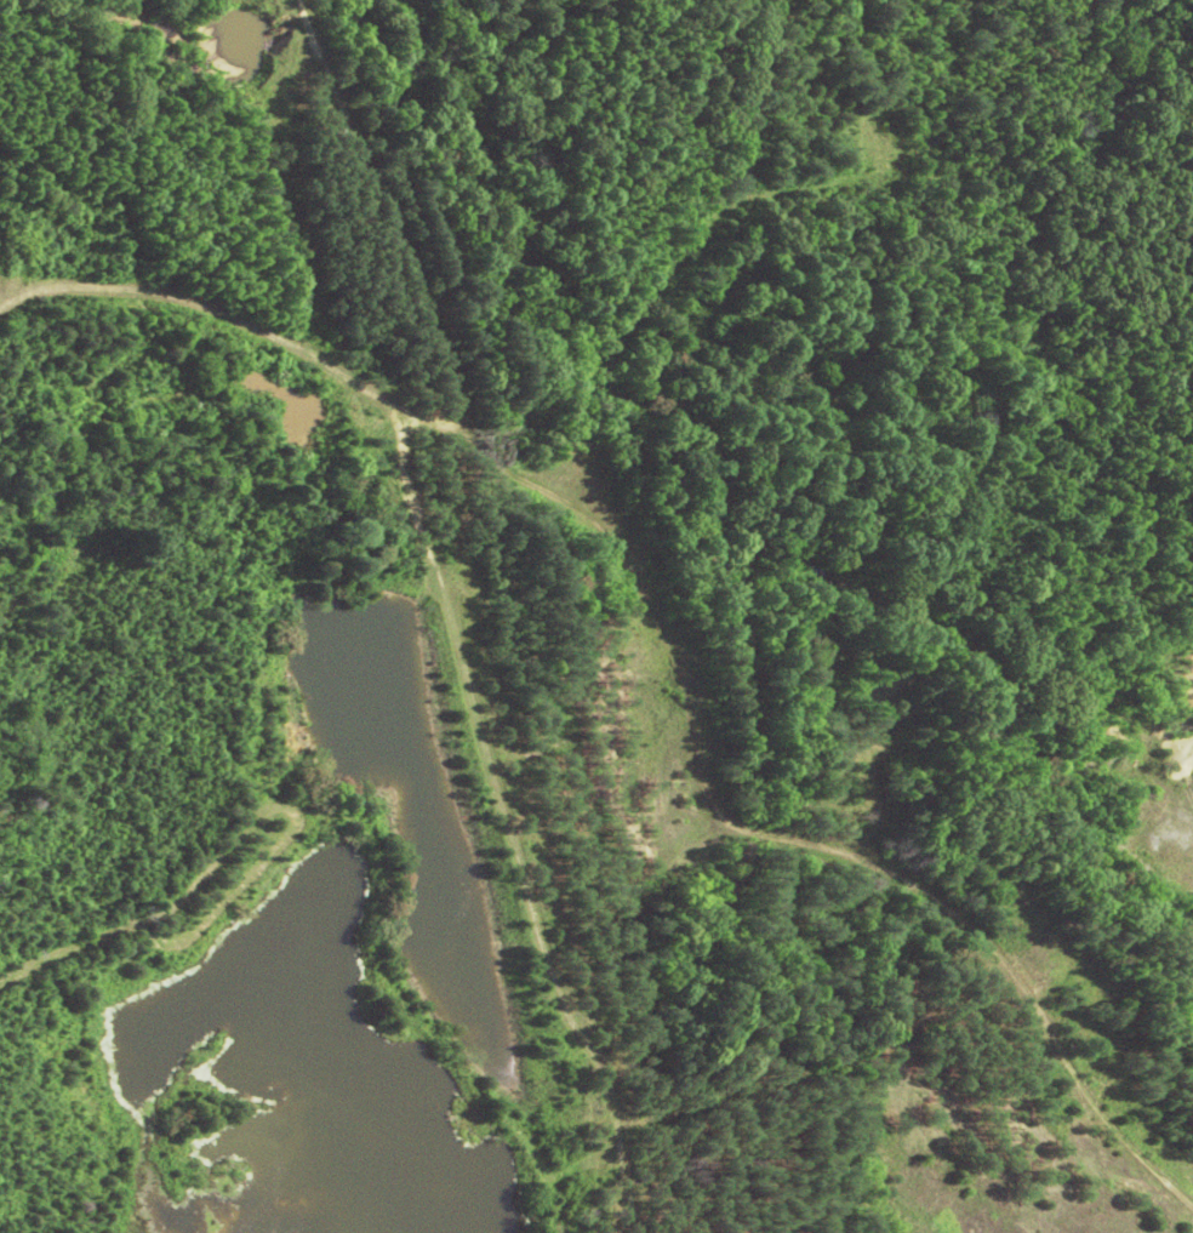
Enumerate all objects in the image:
road: (960, 615)

